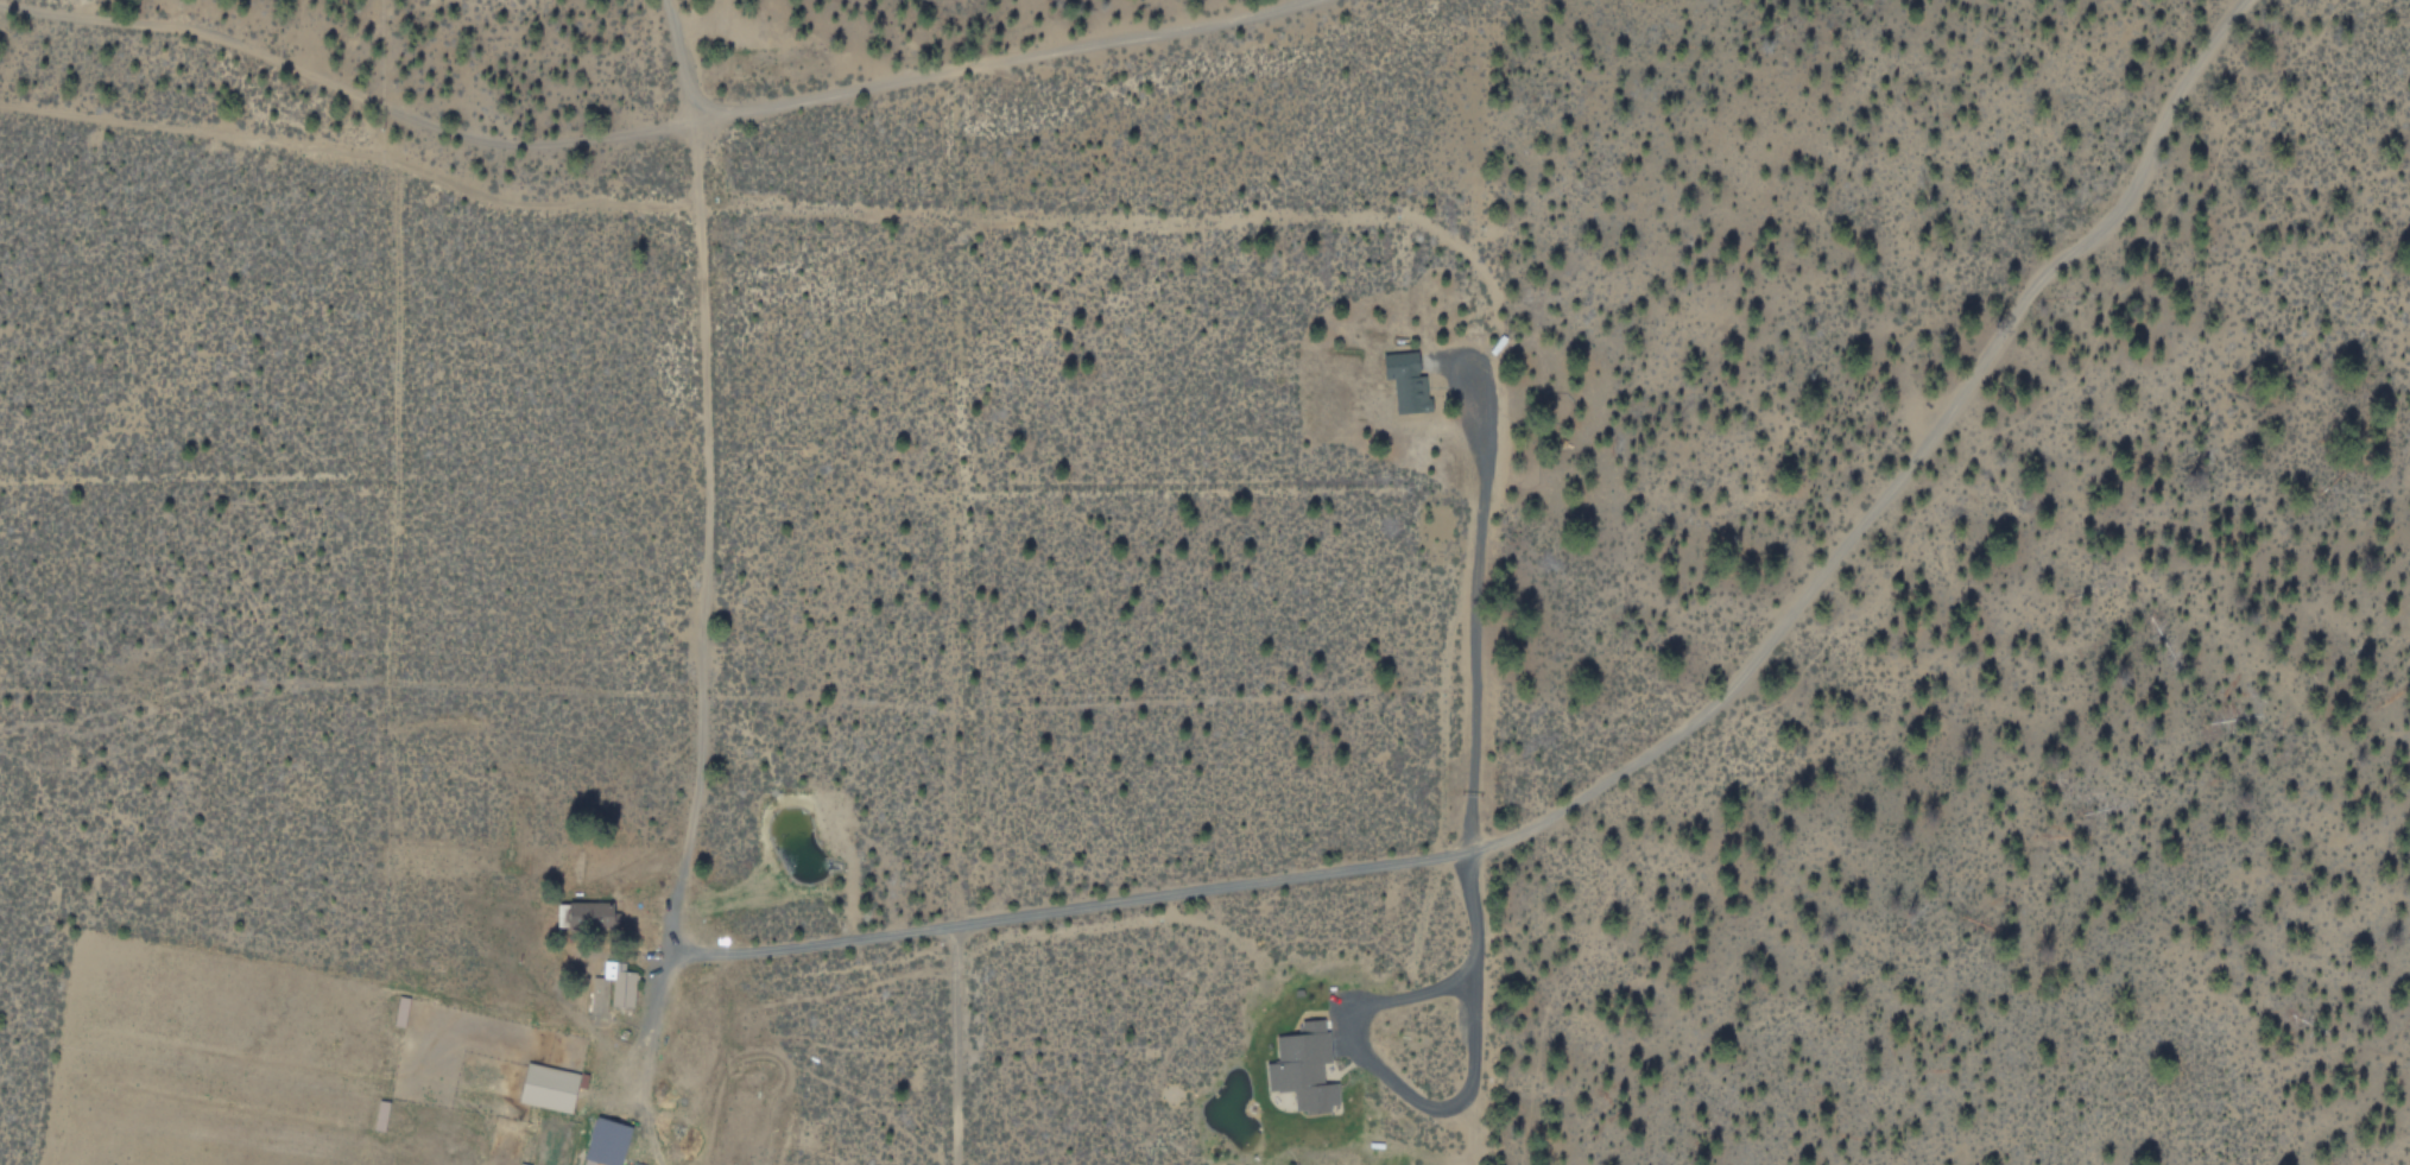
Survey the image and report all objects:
road: (645, 133)
building: (1406, 381)
road: (1740, 678)
building: (592, 916)
road: (664, 945)
road: (808, 948)
building: (608, 969)
building: (624, 988)
road: (953, 1045)
building: (1304, 1068)
building: (551, 1087)
road: (641, 1102)
building: (607, 1142)

